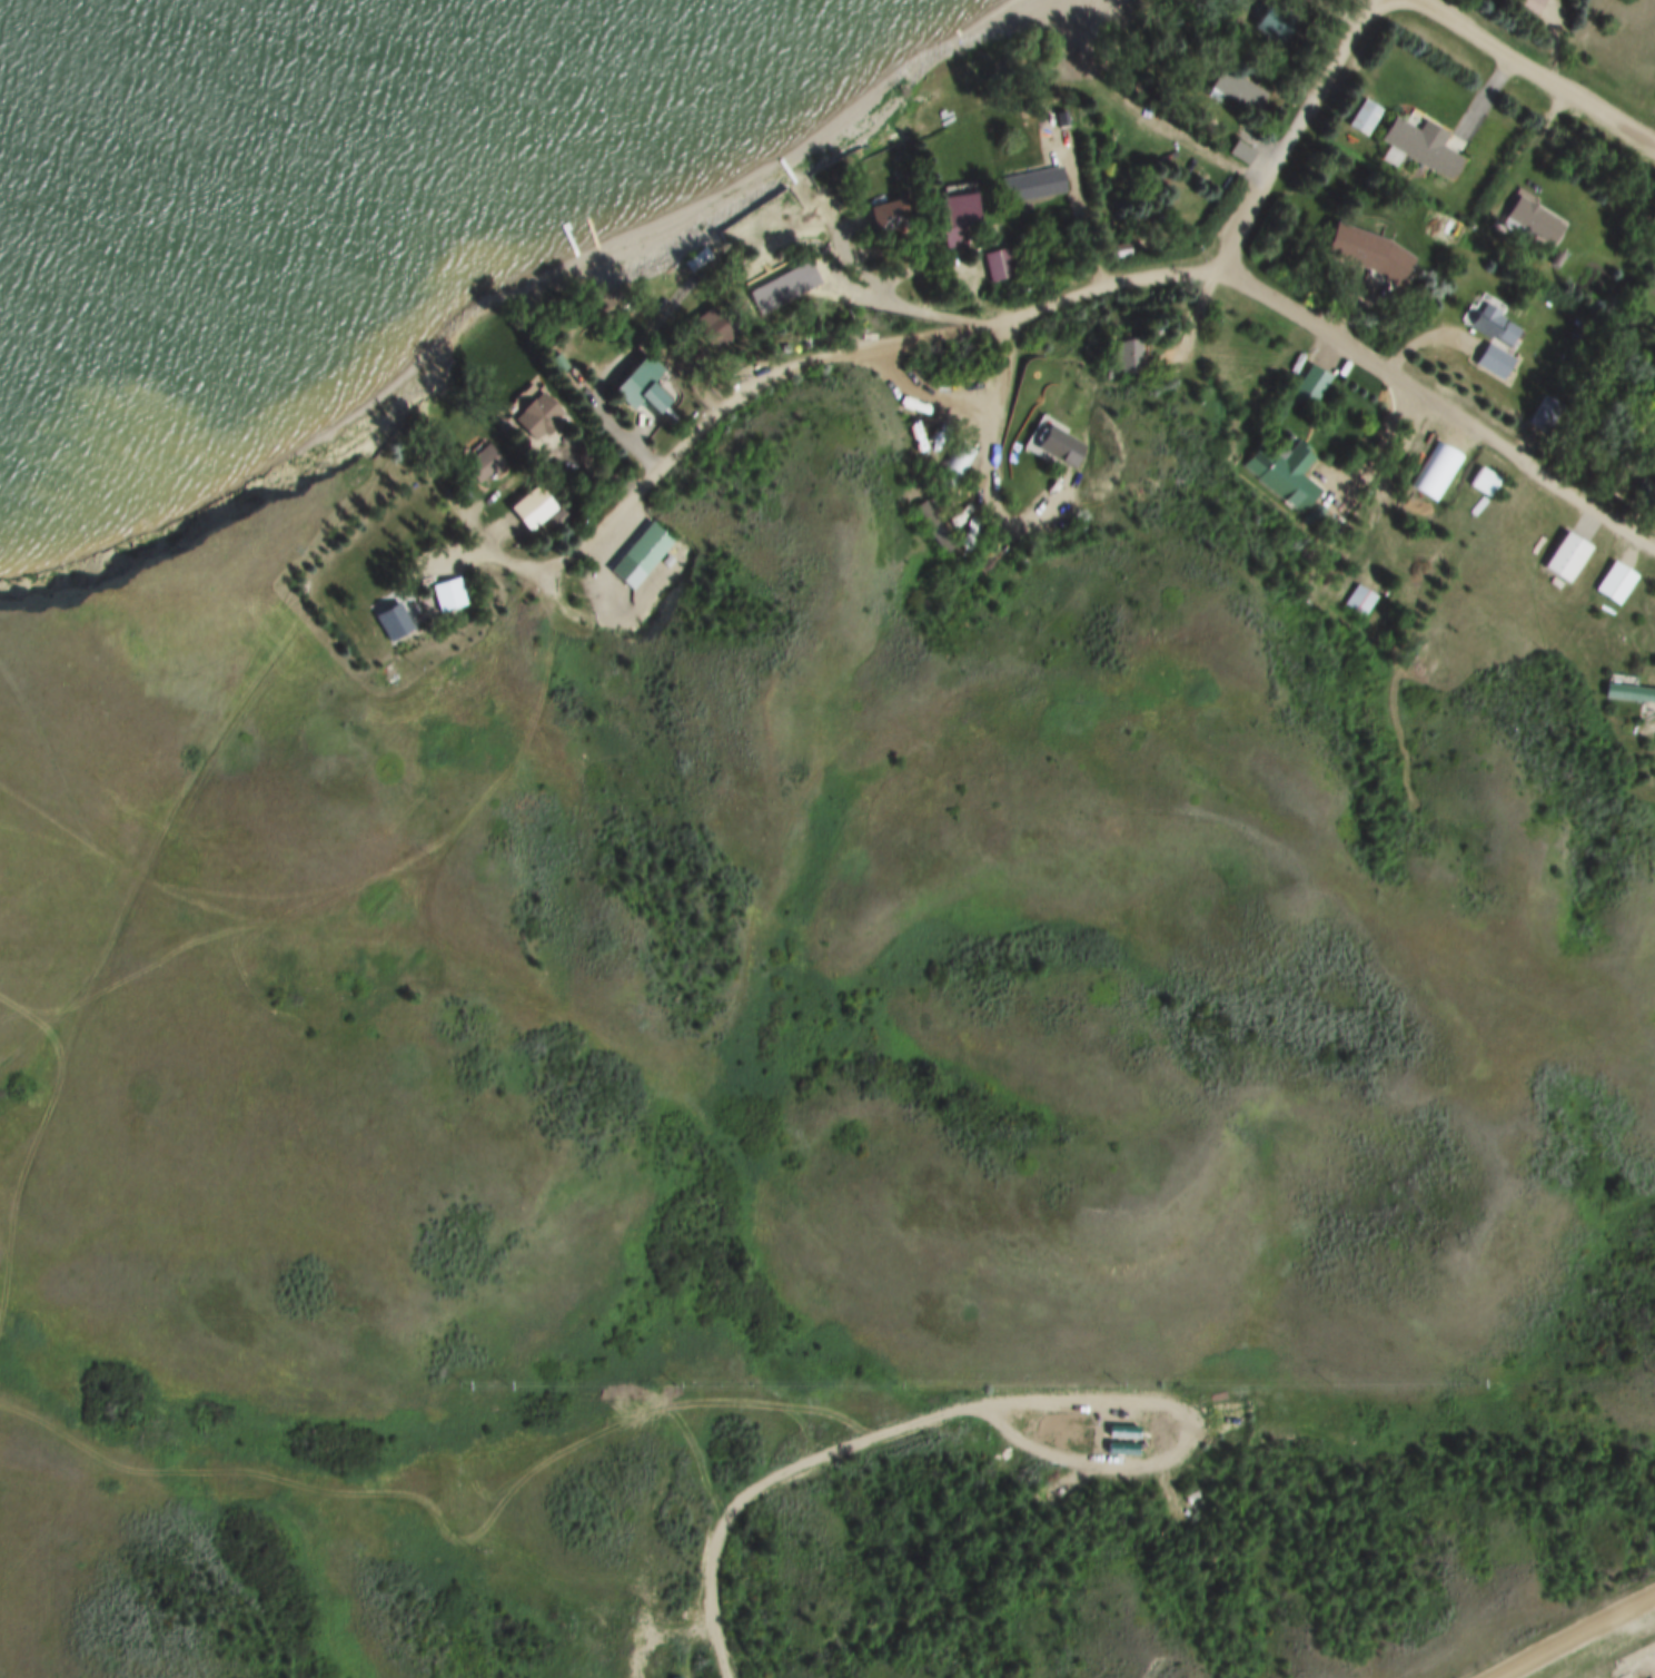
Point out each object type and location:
building: (1526, 4)
building: (1275, 21)
road: (1536, 71)
building: (1229, 86)
building: (1079, 116)
building: (1361, 116)
building: (1056, 117)
road: (1294, 138)
building: (1420, 146)
building: (1241, 154)
building: (1029, 182)
building: (885, 211)
building: (953, 215)
building: (1532, 217)
building: (1370, 254)
building: (688, 257)
building: (1552, 257)
building: (698, 258)
building: (993, 263)
road: (872, 285)
building: (776, 287)
building: (1492, 329)
building: (701, 332)
building: (1116, 355)
building: (1489, 358)
road: (801, 374)
building: (1306, 381)
building: (634, 383)
road: (1437, 411)
building: (1542, 412)
building: (531, 413)
road: (984, 431)
building: (1051, 443)
building: (475, 462)
building: (957, 465)
building: (1428, 468)
building: (1277, 471)
building: (1479, 481)
building: (525, 505)
building: (556, 517)
building: (935, 527)
building: (638, 543)
building: (675, 551)
building: (1559, 554)
building: (1608, 580)
building: (443, 592)
building: (1349, 595)
building: (1360, 600)
building: (388, 619)
building: (1623, 688)
road: (172, 815)
building: (1198, 1421)
road: (1087, 1427)
building: (1108, 1427)
road: (1167, 1437)
building: (1109, 1444)
road: (756, 1472)
road: (1583, 1639)
building: (666, 1677)

